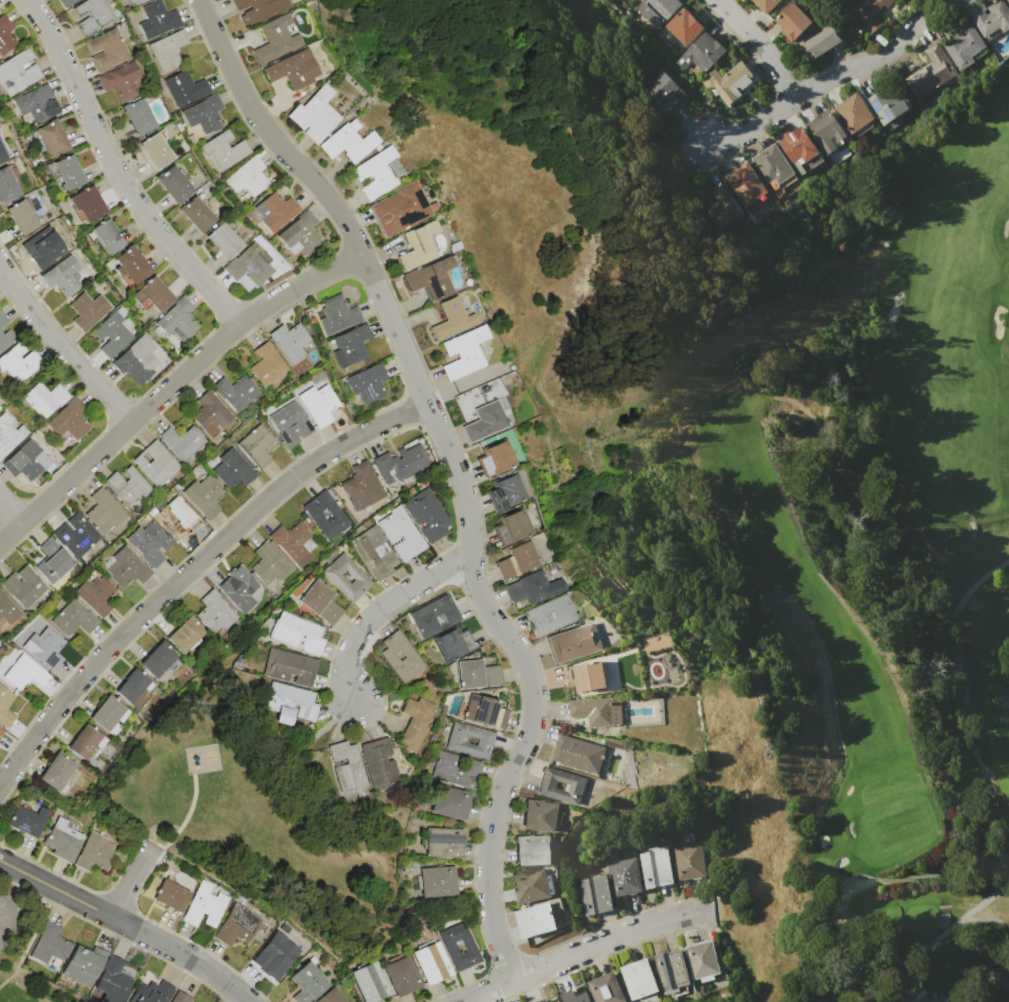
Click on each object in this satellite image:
building: (640, 0)
building: (1007, 0)
building: (134, 2)
building: (66, 3)
building: (766, 5)
building: (259, 10)
building: (658, 11)
building: (872, 13)
building: (91, 16)
building: (989, 16)
building: (158, 19)
building: (794, 22)
building: (684, 27)
building: (6, 35)
building: (276, 40)
building: (819, 42)
building: (964, 45)
road: (757, 47)
building: (107, 50)
building: (168, 50)
building: (702, 53)
road: (873, 57)
building: (294, 70)
building: (931, 71)
building: (17, 72)
building: (121, 81)
building: (728, 82)
building: (185, 88)
building: (665, 92)
building: (888, 103)
building: (33, 104)
building: (204, 114)
building: (855, 114)
building: (316, 115)
building: (138, 116)
road: (761, 125)
building: (825, 130)
building: (51, 139)
building: (351, 141)
building: (799, 145)
building: (225, 150)
building: (156, 151)
building: (2, 154)
building: (773, 164)
road: (117, 169)
building: (68, 172)
building: (378, 173)
building: (248, 177)
building: (174, 184)
building: (7, 185)
building: (747, 186)
building: (86, 203)
building: (722, 208)
building: (401, 209)
building: (276, 211)
building: (197, 215)
building: (21, 217)
building: (301, 233)
building: (105, 236)
building: (224, 240)
building: (418, 246)
building: (46, 247)
building: (132, 264)
building: (250, 264)
building: (63, 276)
building: (431, 279)
building: (152, 296)
building: (88, 311)
building: (337, 314)
building: (452, 319)
building: (3, 320)
building: (178, 320)
building: (112, 335)
building: (7, 338)
building: (290, 342)
road: (66, 346)
building: (351, 346)
building: (464, 353)
building: (137, 360)
building: (18, 364)
building: (266, 365)
building: (367, 383)
road: (172, 387)
building: (236, 392)
building: (43, 399)
building: (319, 404)
building: (210, 414)
building: (69, 420)
building: (485, 422)
building: (289, 424)
building: (10, 435)
building: (182, 442)
building: (257, 446)
building: (494, 459)
building: (28, 461)
building: (156, 463)
building: (403, 463)
building: (233, 469)
road: (459, 472)
building: (127, 486)
building: (361, 486)
building: (505, 492)
building: (205, 496)
road: (11, 509)
building: (104, 512)
building: (314, 514)
building: (178, 515)
building: (428, 515)
building: (511, 528)
building: (402, 534)
building: (76, 535)
road: (224, 539)
building: (294, 543)
building: (149, 544)
building: (374, 554)
building: (517, 561)
building: (53, 562)
building: (269, 565)
building: (128, 568)
building: (336, 578)
park: (849, 578)
building: (24, 586)
building: (528, 589)
building: (239, 591)
building: (98, 595)
building: (321, 603)
building: (7, 610)
road: (385, 611)
building: (216, 612)
building: (550, 616)
building: (434, 617)
building: (74, 619)
building: (298, 633)
building: (185, 635)
building: (574, 643)
building: (453, 644)
building: (45, 648)
building: (399, 657)
building: (158, 659)
building: (289, 667)
building: (25, 673)
building: (478, 674)
building: (584, 676)
building: (133, 685)
building: (289, 704)
building: (5, 708)
building: (597, 711)
building: (485, 712)
building: (108, 714)
building: (415, 724)
building: (1, 729)
building: (1, 732)
building: (457, 740)
building: (85, 741)
road: (26, 751)
building: (578, 753)
building: (380, 765)
building: (346, 767)
building: (455, 769)
building: (57, 773)
building: (575, 785)
building: (450, 803)
building: (540, 816)
building: (25, 821)
park: (257, 826)
building: (62, 840)
building: (442, 843)
building: (533, 850)
building: (95, 853)
building: (689, 861)
building: (655, 868)
building: (624, 877)
road: (130, 878)
building: (436, 882)
building: (531, 886)
road: (53, 887)
building: (595, 895)
building: (171, 896)
building: (206, 905)
building: (536, 920)
building: (237, 925)
road: (609, 939)
building: (51, 944)
building: (451, 947)
road: (180, 953)
building: (276, 955)
building: (702, 959)
building: (432, 963)
building: (84, 965)
building: (671, 971)
building: (402, 977)
building: (639, 979)
building: (113, 981)
building: (307, 982)
building: (370, 983)
building: (607, 989)
road: (487, 992)
building: (152, 993)
building: (576, 995)
building: (330, 996)
building: (180, 997)
building: (543, 1000)

